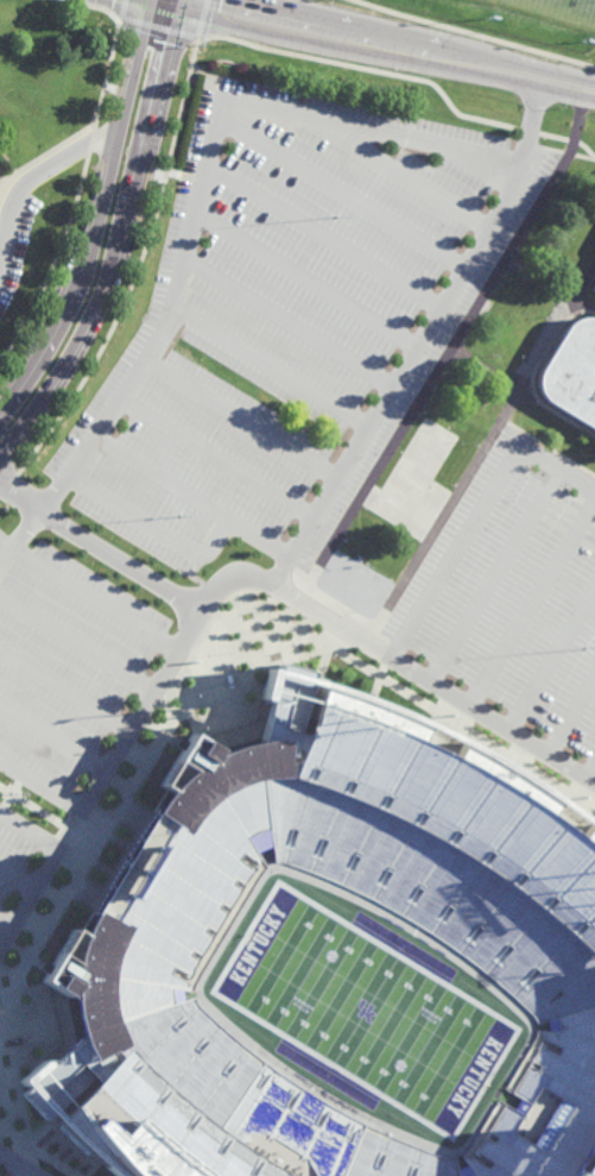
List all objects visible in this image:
road: (91, 7)
park: (549, 11)
road: (120, 12)
road: (201, 21)
road: (156, 33)
road: (474, 34)
road: (393, 46)
road: (404, 76)
road: (372, 131)
road: (42, 172)
road: (399, 176)
road: (342, 193)
road: (77, 200)
road: (99, 212)
road: (325, 237)
road: (125, 244)
road: (132, 283)
road: (305, 283)
road: (547, 285)
building: (594, 288)
road: (164, 319)
road: (287, 325)
road: (439, 339)
road: (423, 340)
road: (448, 348)
road: (268, 365)
road: (485, 367)
building: (572, 372)
road: (556, 415)
road: (240, 419)
road: (450, 422)
parking lot: (228, 447)
road: (547, 447)
road: (479, 454)
road: (216, 457)
road: (191, 497)
road: (479, 515)
road: (157, 526)
road: (20, 535)
road: (99, 547)
road: (374, 554)
road: (496, 579)
road: (95, 597)
road: (532, 603)
parking lot: (509, 605)
road: (77, 643)
road: (395, 661)
road: (553, 664)
road: (67, 690)
road: (572, 719)
road: (53, 738)
road: (590, 773)
road: (44, 780)
road: (103, 781)
road: (31, 829)
road: (18, 878)
building: (482, 907)
road: (7, 920)
stadium: (340, 966)
park: (366, 1004)
road: (18, 1164)
parking lot: (12, 1168)
road: (30, 1174)

